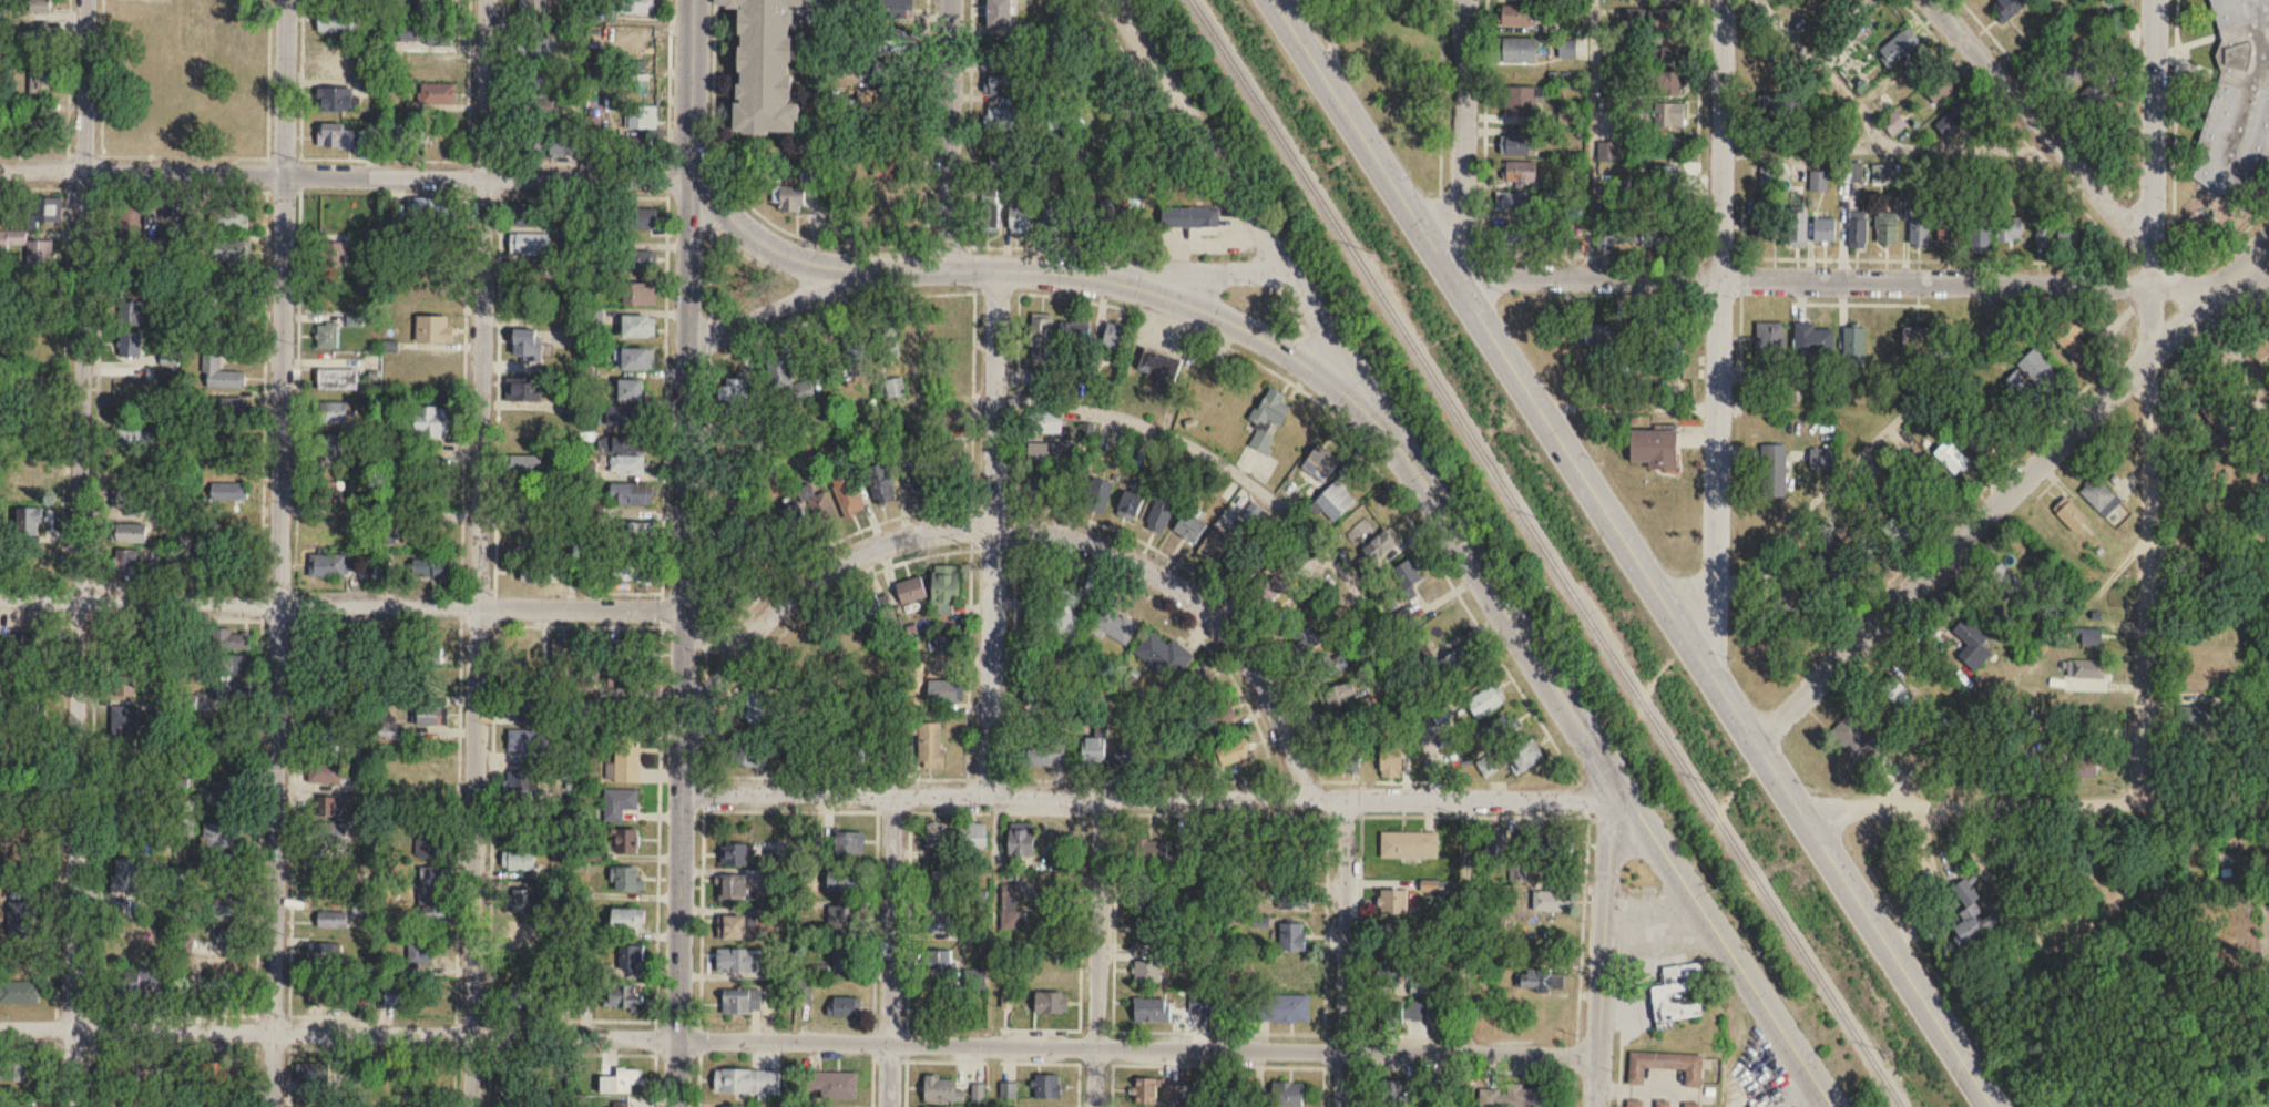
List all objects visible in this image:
building: (1667, 0)
building: (33, 6)
building: (635, 7)
building: (1856, 8)
building: (893, 9)
building: (2006, 9)
building: (430, 10)
building: (532, 11)
building: (999, 12)
building: (1515, 16)
building: (1655, 17)
building: (335, 20)
building: (421, 34)
building: (891, 37)
building: (34, 39)
building: (637, 45)
building: (1898, 48)
building: (536, 49)
building: (1516, 50)
building: (1657, 55)
building: (1000, 57)
building: (343, 63)
building: (759, 65)
building: (891, 66)
road: (1829, 69)
building: (2068, 73)
road: (668, 79)
building: (42, 80)
building: (541, 82)
building: (1097, 84)
building: (1664, 84)
building: (638, 86)
building: (1002, 86)
building: (1939, 89)
building: (437, 94)
building: (879, 98)
building: (334, 100)
building: (2237, 101)
building: (1522, 102)
building: (1775, 103)
building: (1612, 105)
building: (532, 107)
building: (1668, 115)
building: (641, 117)
building: (1568, 117)
building: (1003, 120)
building: (1953, 120)
building: (1893, 124)
building: (593, 125)
building: (19, 127)
road: (819, 131)
building: (42, 132)
road: (949, 134)
building: (407, 135)
building: (335, 137)
building: (372, 137)
road: (1463, 141)
road: (1596, 141)
road: (1889, 143)
building: (560, 145)
building: (1519, 145)
building: (1662, 147)
building: (633, 148)
building: (1607, 151)
road: (433, 157)
building: (1003, 163)
road: (141, 170)
building: (1519, 172)
building: (1852, 173)
building: (1882, 175)
road: (487, 176)
building: (1767, 176)
building: (1665, 180)
building: (1619, 182)
road: (2099, 193)
building: (876, 196)
building: (789, 198)
building: (1514, 202)
building: (433, 206)
building: (1, 209)
building: (48, 211)
building: (1574, 212)
building: (533, 215)
building: (1110, 217)
building: (233, 218)
building: (1189, 218)
building: (989, 219)
building: (1051, 219)
building: (1081, 219)
building: (600, 221)
building: (1019, 221)
building: (652, 222)
building: (133, 228)
building: (1762, 228)
building: (1797, 229)
building: (1887, 229)
building: (1858, 230)
building: (2009, 230)
building: (1825, 232)
building: (1949, 233)
building: (2043, 233)
building: (1920, 234)
building: (1979, 235)
building: (1515, 236)
building: (164, 237)
building: (1657, 237)
building: (1611, 238)
building: (2067, 239)
building: (532, 244)
building: (30, 247)
building: (235, 249)
building: (336, 254)
road: (1050, 269)
road: (1202, 270)
building: (532, 273)
building: (133, 274)
road: (1862, 283)
building: (236, 284)
building: (35, 293)
building: (643, 293)
building: (439, 297)
road: (779, 304)
building: (134, 312)
building: (642, 325)
building: (438, 329)
building: (951, 332)
building: (1074, 332)
building: (1645, 335)
building: (329, 336)
building: (922, 336)
building: (1601, 336)
building: (1675, 337)
building: (1915, 337)
building: (1114, 338)
road: (265, 339)
road: (1721, 339)
building: (1040, 340)
building: (1770, 340)
building: (1812, 340)
building: (2077, 342)
building: (887, 346)
building: (531, 347)
building: (1853, 347)
building: (855, 357)
building: (642, 359)
building: (1158, 368)
building: (2040, 371)
building: (224, 375)
building: (339, 379)
building: (1042, 379)
building: (527, 389)
building: (895, 389)
building: (636, 390)
building: (804, 393)
building: (30, 394)
road: (498, 394)
building: (733, 397)
road: (2149, 404)
building: (231, 406)
building: (2210, 406)
building: (338, 412)
building: (625, 412)
road: (664, 416)
building: (952, 418)
building: (1268, 419)
building: (435, 421)
building: (524, 422)
building: (1044, 423)
road: (830, 426)
building: (1974, 437)
building: (2214, 438)
building: (625, 439)
road: (1875, 441)
building: (1654, 448)
building: (328, 450)
building: (33, 451)
building: (1046, 454)
building: (1951, 457)
building: (1821, 458)
building: (133, 460)
building: (625, 461)
building: (1319, 464)
building: (528, 465)
building: (954, 465)
building: (1774, 470)
building: (914, 478)
building: (33, 482)
building: (881, 484)
building: (1045, 485)
building: (630, 490)
building: (847, 490)
building: (231, 491)
road: (2011, 491)
building: (2101, 495)
building: (1097, 496)
building: (132, 498)
building: (1907, 499)
building: (1335, 500)
building: (1128, 506)
building: (531, 508)
road: (462, 509)
building: (821, 510)
road: (1291, 513)
building: (2069, 513)
building: (1159, 514)
building: (31, 520)
building: (793, 524)
building: (227, 525)
road: (1016, 525)
building: (1189, 526)
building: (635, 530)
building: (1897, 530)
building: (763, 531)
road: (991, 531)
road: (1419, 531)
building: (134, 533)
building: (1215, 543)
building: (1868, 546)
road: (78, 553)
road: (278, 553)
road: (478, 553)
road: (684, 553)
railway: (1546, 553)
road: (1471, 554)
road: (1633, 554)
building: (33, 557)
building: (129, 562)
building: (1830, 562)
building: (593, 563)
building: (334, 564)
building: (630, 565)
building: (1241, 565)
building: (539, 567)
building: (435, 568)
building: (729, 571)
building: (1406, 573)
building: (2204, 580)
building: (2010, 583)
building: (944, 588)
building: (1265, 588)
building: (909, 590)
building: (1033, 593)
road: (139, 599)
building: (1789, 606)
road: (480, 607)
building: (867, 607)
building: (1064, 611)
building: (2089, 636)
building: (1307, 638)
building: (234, 639)
building: (1972, 643)
building: (950, 644)
building: (27, 645)
building: (630, 649)
building: (528, 652)
building: (429, 654)
building: (814, 655)
building: (1163, 655)
building: (565, 659)
building: (1455, 663)
building: (233, 664)
building: (1325, 666)
building: (2086, 668)
building: (2198, 670)
building: (631, 677)
building: (127, 680)
building: (436, 684)
building: (1198, 686)
building: (233, 689)
building: (944, 689)
building: (1895, 691)
building: (1043, 695)
building: (1339, 695)
building: (1485, 701)
building: (334, 703)
building: (530, 707)
building: (626, 709)
building: (27, 711)
building: (428, 715)
building: (1217, 715)
building: (127, 720)
building: (1498, 728)
building: (527, 737)
building: (331, 738)
building: (1858, 741)
building: (227, 747)
building: (926, 747)
building: (1093, 750)
building: (745, 751)
building: (1044, 751)
building: (1231, 752)
building: (1521, 755)
building: (1125, 756)
building: (125, 757)
building: (1389, 757)
building: (627, 758)
building: (1346, 758)
building: (1486, 766)
building: (2084, 766)
building: (426, 771)
building: (326, 772)
road: (1072, 777)
building: (522, 785)
building: (133, 789)
building: (23, 796)
road: (1154, 796)
building: (227, 797)
building: (619, 799)
building: (328, 804)
building: (422, 808)
road: (2034, 810)
road: (1045, 811)
road: (92, 812)
building: (131, 814)
building: (186, 828)
building: (519, 829)
building: (225, 834)
building: (329, 834)
building: (936, 834)
building: (972, 836)
building: (625, 838)
road: (658, 839)
building: (1020, 839)
building: (848, 842)
building: (1558, 842)
building: (1409, 844)
building: (1495, 845)
building: (30, 847)
building: (1186, 849)
road: (702, 851)
building: (1152, 853)
road: (1327, 853)
building: (733, 854)
road: (1361, 855)
building: (521, 859)
building: (1271, 861)
building: (1540, 870)
building: (130, 874)
building: (625, 875)
building: (840, 879)
building: (942, 879)
building: (732, 886)
building: (1438, 886)
building: (1147, 893)
building: (1294, 896)
building: (1011, 900)
building: (523, 901)
building: (439, 902)
building: (1392, 902)
building: (1550, 902)
road: (490, 903)
building: (232, 906)
building: (1970, 910)
building: (24, 918)
building: (626, 918)
building: (841, 918)
building: (937, 919)
building: (336, 920)
road: (1220, 921)
building: (730, 924)
road: (1464, 924)
building: (1148, 930)
building: (525, 933)
building: (1292, 936)
building: (233, 939)
building: (1386, 939)
road: (892, 950)
road: (993, 950)
road: (1097, 951)
road: (1603, 951)
building: (326, 952)
road: (1342, 952)
building: (423, 953)
building: (844, 954)
building: (633, 957)
road: (875, 957)
road: (908, 957)
building: (1052, 957)
building: (941, 960)
building: (735, 961)
road: (1581, 961)
building: (1146, 971)
building: (1291, 973)
building: (1389, 973)
building: (1543, 978)
building: (147, 982)
building: (19, 987)
building: (1420, 987)
building: (222, 990)
building: (323, 992)
building: (397, 994)
building: (522, 994)
building: (364, 995)
building: (1676, 995)
building: (628, 996)
building: (740, 1002)
building: (1041, 1002)
building: (1199, 1003)
building: (1278, 1005)
building: (846, 1006)
building: (1152, 1009)
building: (1402, 1012)
road: (136, 1028)
road: (489, 1033)
road: (807, 1042)
road: (72, 1044)
road: (543, 1050)
road: (1469, 1052)
road: (992, 1059)
road: (454, 1063)
road: (1216, 1064)
building: (1665, 1065)
road: (1447, 1068)
building: (23, 1069)
building: (315, 1072)
building: (203, 1073)
road: (1618, 1075)
road: (654, 1079)
building: (624, 1080)
building: (746, 1082)
road: (1077, 1084)
building: (832, 1085)
building: (1046, 1086)
building: (941, 1089)
building: (1162, 1091)
building: (1287, 1093)
building: (1392, 1093)
building: (1421, 1096)
building: (1511, 1096)
building: (227, 1099)
building: (522, 1101)
building: (1633, 1103)
building: (1662, 1104)
building: (1690, 1105)
building: (729, 1106)
building: (938, 1106)

